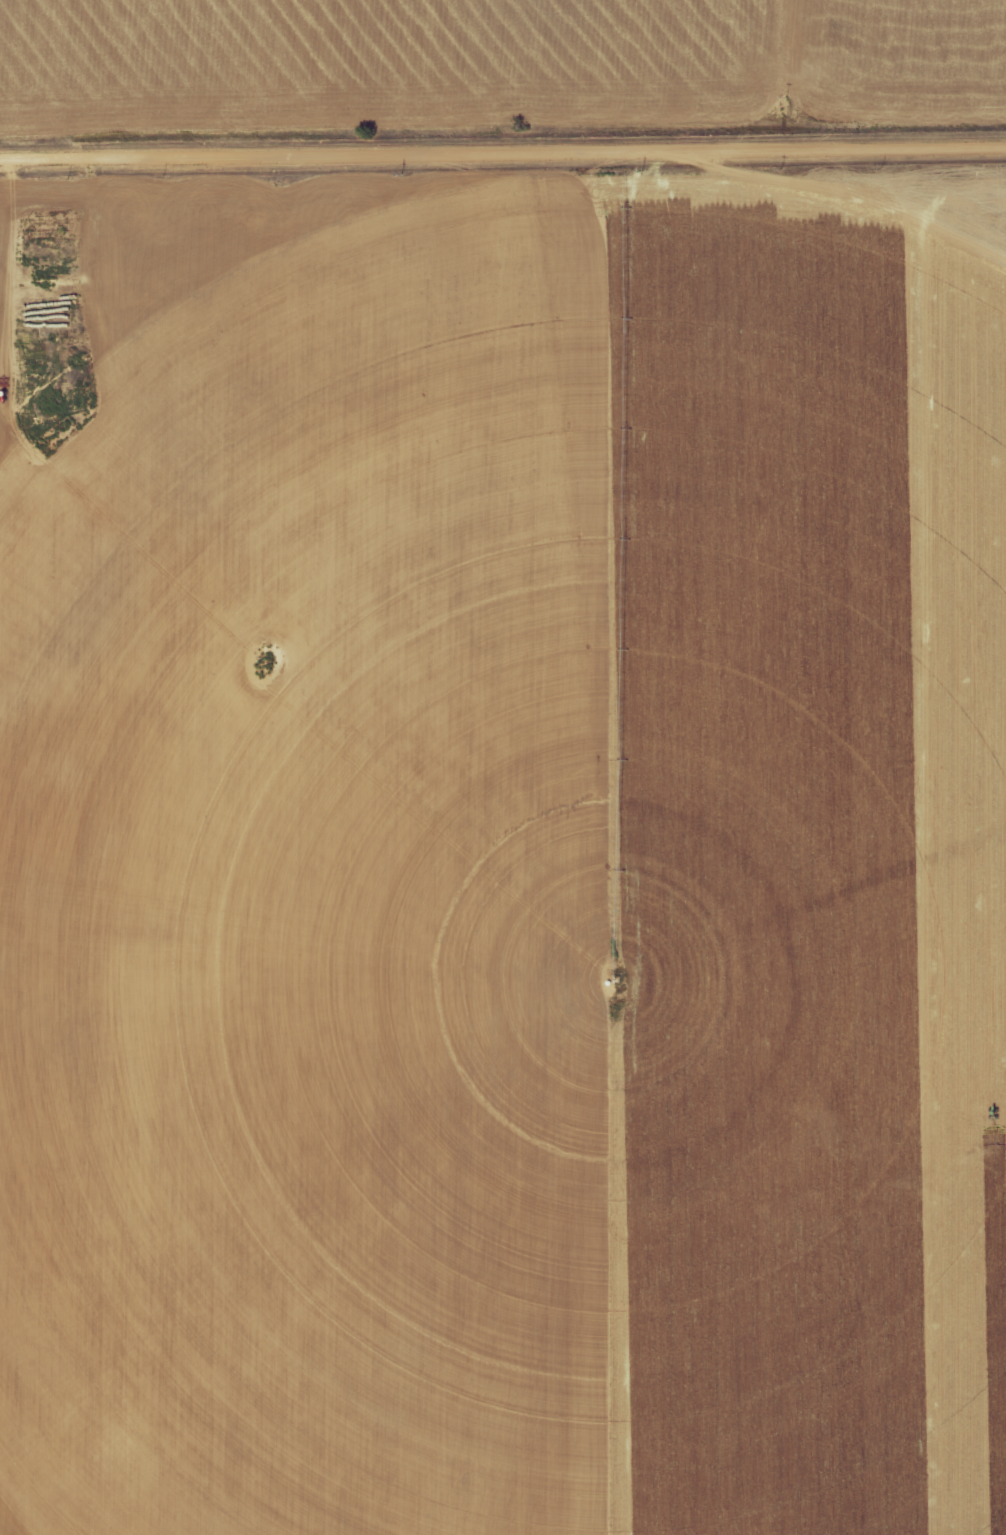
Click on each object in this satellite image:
road: (503, 154)

